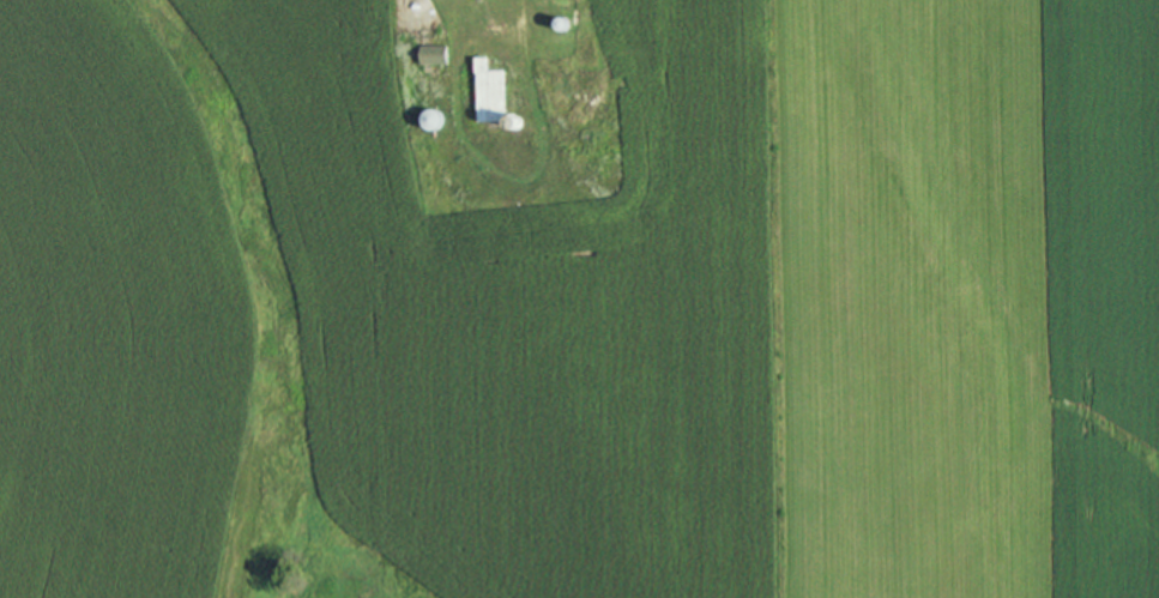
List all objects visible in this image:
building: (431, 53)
building: (487, 91)

